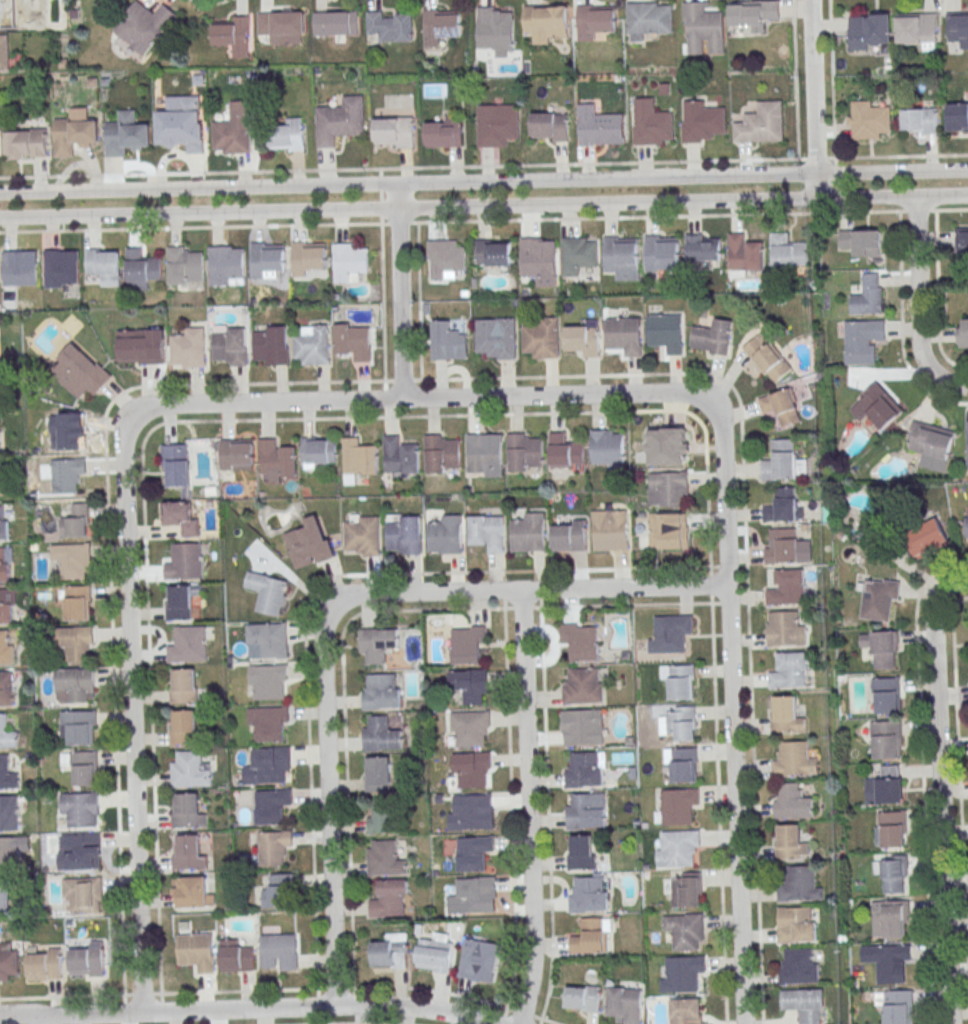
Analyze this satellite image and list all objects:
road: (224, 0)
road: (208, 2)
building: (22, 13)
building: (752, 14)
building: (649, 17)
building: (546, 21)
building: (595, 21)
building: (335, 23)
building: (144, 26)
building: (282, 26)
building: (390, 26)
building: (441, 26)
building: (702, 29)
building: (916, 29)
building: (958, 29)
building: (494, 30)
building: (870, 31)
building: (234, 37)
building: (4, 52)
road: (795, 79)
road: (832, 79)
building: (664, 88)
road: (812, 99)
building: (958, 116)
building: (870, 120)
building: (920, 120)
building: (340, 121)
building: (701, 121)
building: (182, 123)
building: (761, 123)
building: (497, 124)
building: (651, 126)
building: (549, 127)
building: (234, 129)
building: (601, 129)
building: (394, 132)
building: (444, 133)
building: (126, 134)
building: (73, 135)
building: (288, 136)
building: (26, 143)
road: (899, 156)
road: (817, 158)
road: (402, 168)
road: (681, 177)
road: (198, 188)
road: (682, 201)
road: (198, 212)
road: (483, 221)
building: (862, 242)
building: (962, 242)
building: (703, 247)
building: (787, 252)
building: (744, 253)
building: (495, 254)
building: (577, 255)
building: (663, 256)
building: (621, 257)
building: (309, 258)
building: (445, 258)
building: (538, 259)
building: (267, 260)
building: (350, 262)
building: (183, 265)
building: (104, 266)
building: (226, 266)
building: (59, 269)
building: (142, 269)
building: (19, 270)
road: (398, 291)
building: (869, 296)
road: (936, 297)
road: (419, 301)
road: (917, 306)
road: (382, 320)
road: (901, 326)
building: (665, 332)
building: (624, 335)
building: (964, 335)
building: (542, 338)
building: (583, 338)
building: (712, 338)
building: (497, 339)
building: (447, 340)
building: (863, 340)
building: (353, 341)
building: (272, 344)
building: (312, 345)
building: (230, 346)
building: (136, 348)
building: (189, 348)
building: (767, 358)
building: (81, 371)
road: (555, 395)
road: (266, 402)
building: (877, 406)
building: (780, 407)
road: (740, 415)
road: (214, 420)
building: (69, 433)
building: (967, 437)
building: (931, 444)
building: (667, 446)
building: (606, 447)
building: (319, 451)
building: (441, 451)
building: (523, 452)
building: (565, 452)
building: (482, 453)
building: (237, 455)
building: (398, 456)
building: (359, 457)
building: (277, 459)
building: (783, 462)
building: (177, 467)
building: (0, 471)
building: (67, 474)
building: (668, 489)
building: (781, 506)
building: (181, 517)
building: (75, 522)
building: (3, 523)
building: (966, 528)
building: (609, 530)
building: (667, 531)
building: (487, 532)
building: (529, 533)
building: (403, 534)
building: (447, 535)
building: (568, 535)
building: (364, 536)
building: (926, 538)
building: (310, 543)
building: (786, 546)
building: (73, 560)
building: (186, 562)
road: (721, 565)
building: (3, 566)
road: (956, 580)
road: (709, 583)
building: (786, 588)
road: (312, 589)
road: (526, 589)
building: (268, 592)
road: (539, 593)
road: (502, 594)
building: (876, 599)
building: (77, 603)
building: (180, 603)
road: (628, 603)
road: (521, 606)
building: (4, 607)
building: (785, 629)
building: (670, 634)
building: (269, 639)
building: (581, 641)
building: (77, 644)
building: (378, 644)
building: (467, 644)
building: (189, 645)
building: (5, 648)
building: (882, 648)
building: (789, 671)
road: (113, 672)
building: (679, 681)
building: (269, 682)
building: (470, 684)
building: (75, 685)
building: (184, 687)
building: (582, 687)
building: (6, 688)
building: (382, 692)
building: (885, 695)
road: (730, 712)
road: (130, 714)
building: (785, 715)
building: (269, 723)
road: (343, 723)
building: (679, 723)
building: (78, 727)
building: (471, 727)
building: (581, 727)
building: (185, 728)
building: (6, 733)
building: (381, 734)
building: (886, 740)
building: (794, 760)
building: (680, 764)
building: (272, 765)
building: (81, 767)
building: (187, 769)
building: (472, 769)
building: (584, 770)
building: (7, 774)
building: (378, 774)
building: (885, 786)
building: (793, 802)
road: (940, 802)
building: (271, 805)
building: (679, 805)
road: (959, 805)
road: (510, 807)
road: (525, 807)
road: (327, 808)
building: (80, 809)
road: (718, 809)
building: (474, 811)
building: (187, 812)
road: (547, 812)
building: (585, 812)
building: (8, 813)
road: (924, 818)
building: (380, 819)
building: (890, 829)
building: (789, 841)
building: (274, 847)
building: (680, 847)
building: (80, 851)
building: (474, 852)
building: (581, 852)
building: (9, 854)
building: (188, 854)
building: (383, 858)
building: (892, 872)
building: (799, 885)
building: (686, 889)
building: (278, 891)
building: (192, 893)
building: (83, 894)
building: (588, 895)
building: (474, 896)
building: (4, 897)
building: (389, 898)
building: (889, 919)
building: (795, 924)
building: (687, 932)
building: (590, 936)
building: (197, 951)
building: (390, 951)
building: (279, 952)
building: (435, 954)
building: (235, 956)
building: (87, 960)
building: (477, 961)
building: (889, 962)
building: (9, 964)
building: (44, 964)
building: (799, 966)
building: (685, 972)
road: (334, 987)
road: (238, 990)
road: (429, 990)
road: (141, 993)
road: (65, 996)
building: (583, 998)
road: (353, 1000)
road: (317, 1001)
building: (624, 1004)
building: (803, 1004)
road: (161, 1006)
building: (896, 1006)
road: (250, 1009)
building: (683, 1011)
road: (523, 1013)
road: (502, 1019)
road: (546, 1020)
road: (362, 1023)

